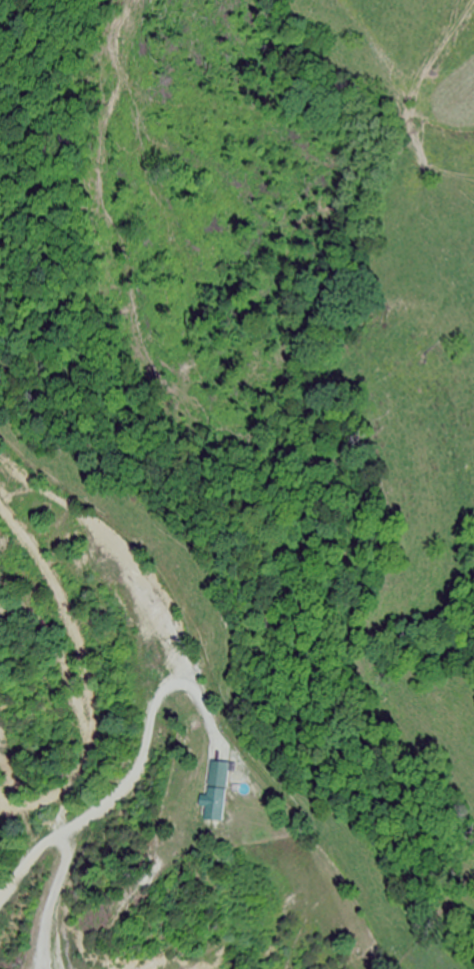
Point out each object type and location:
building: (219, 793)

